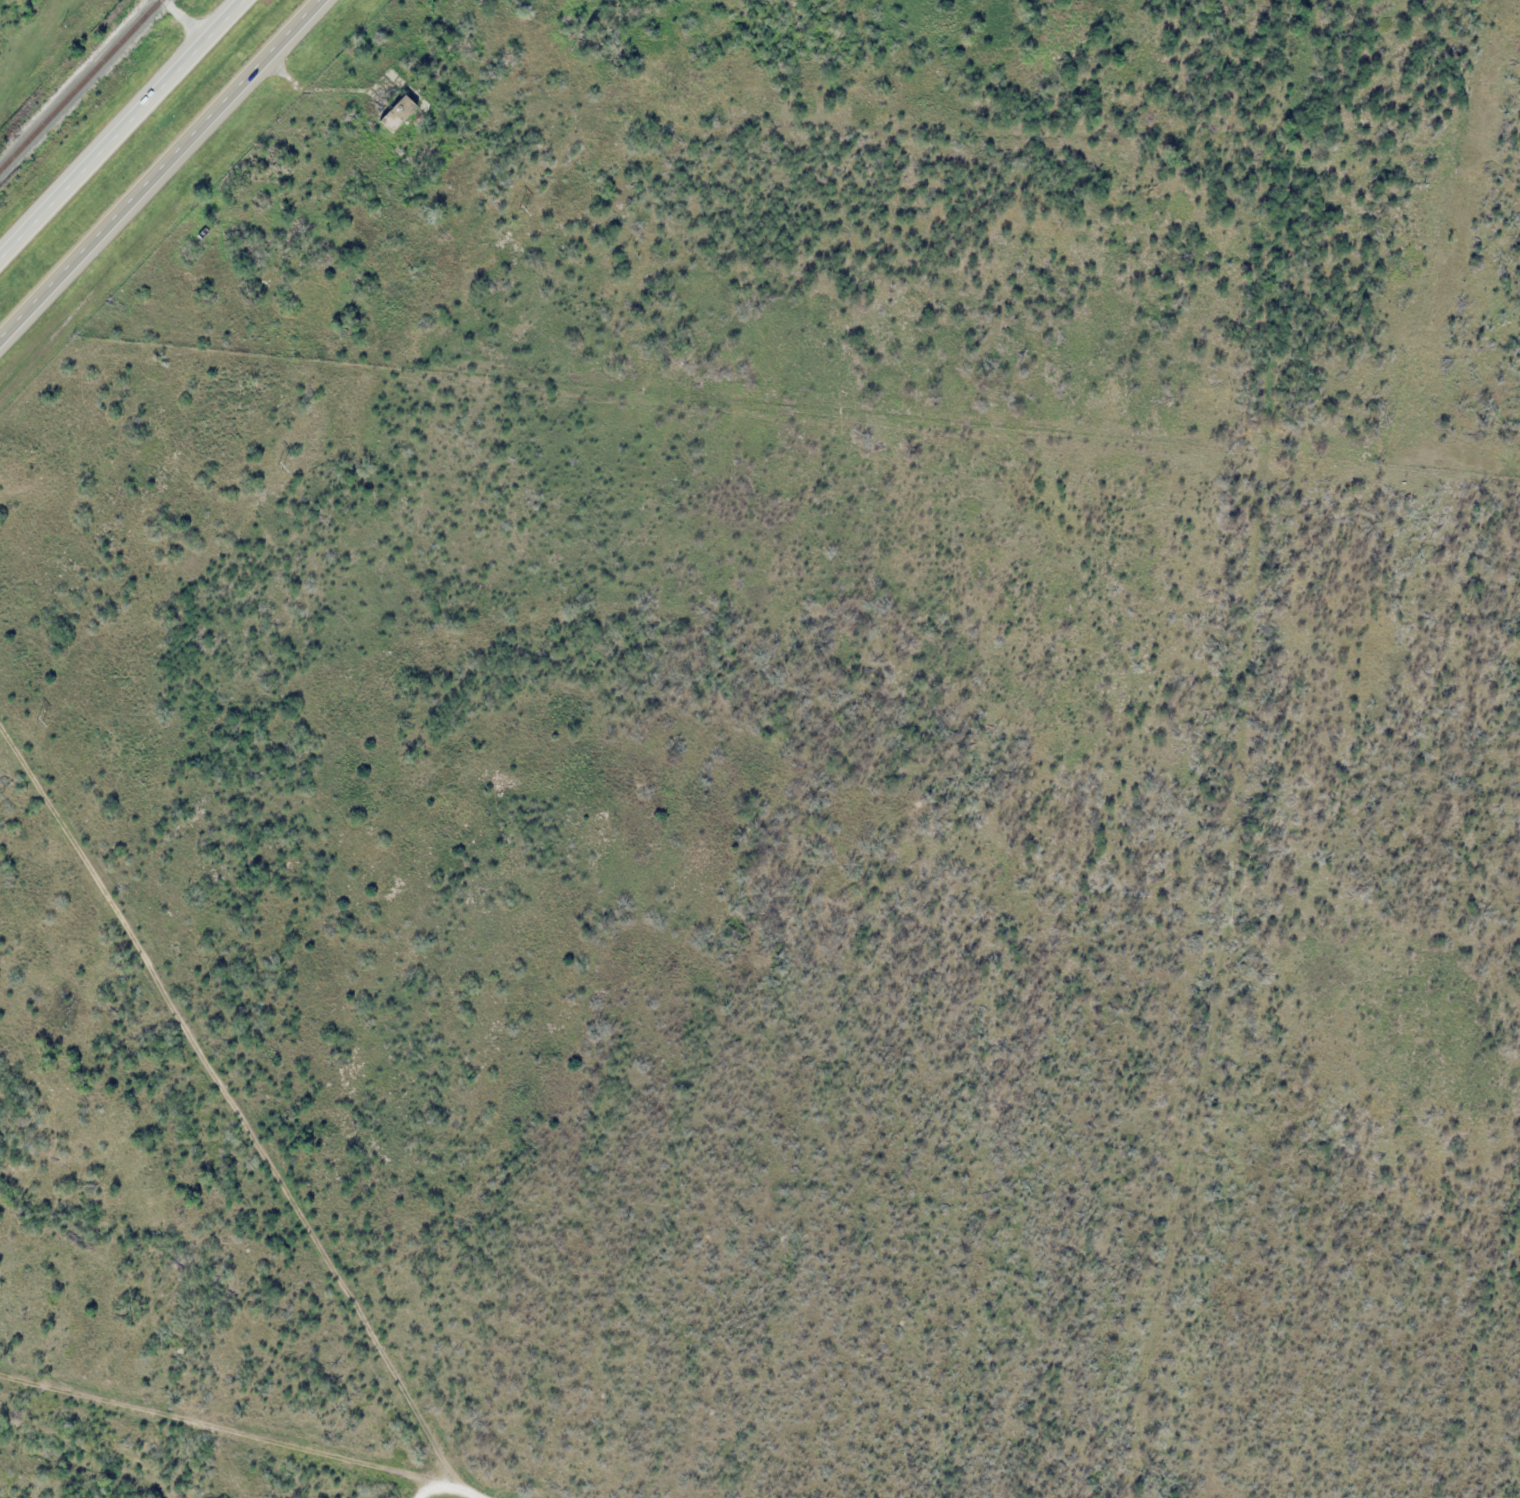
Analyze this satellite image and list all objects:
road: (184, 23)
railway: (79, 84)
building: (397, 115)
road: (126, 134)
road: (171, 182)
power tower: (521, 211)
power tower: (279, 467)
power tower: (37, 721)
road: (226, 1124)
road: (468, 1484)

